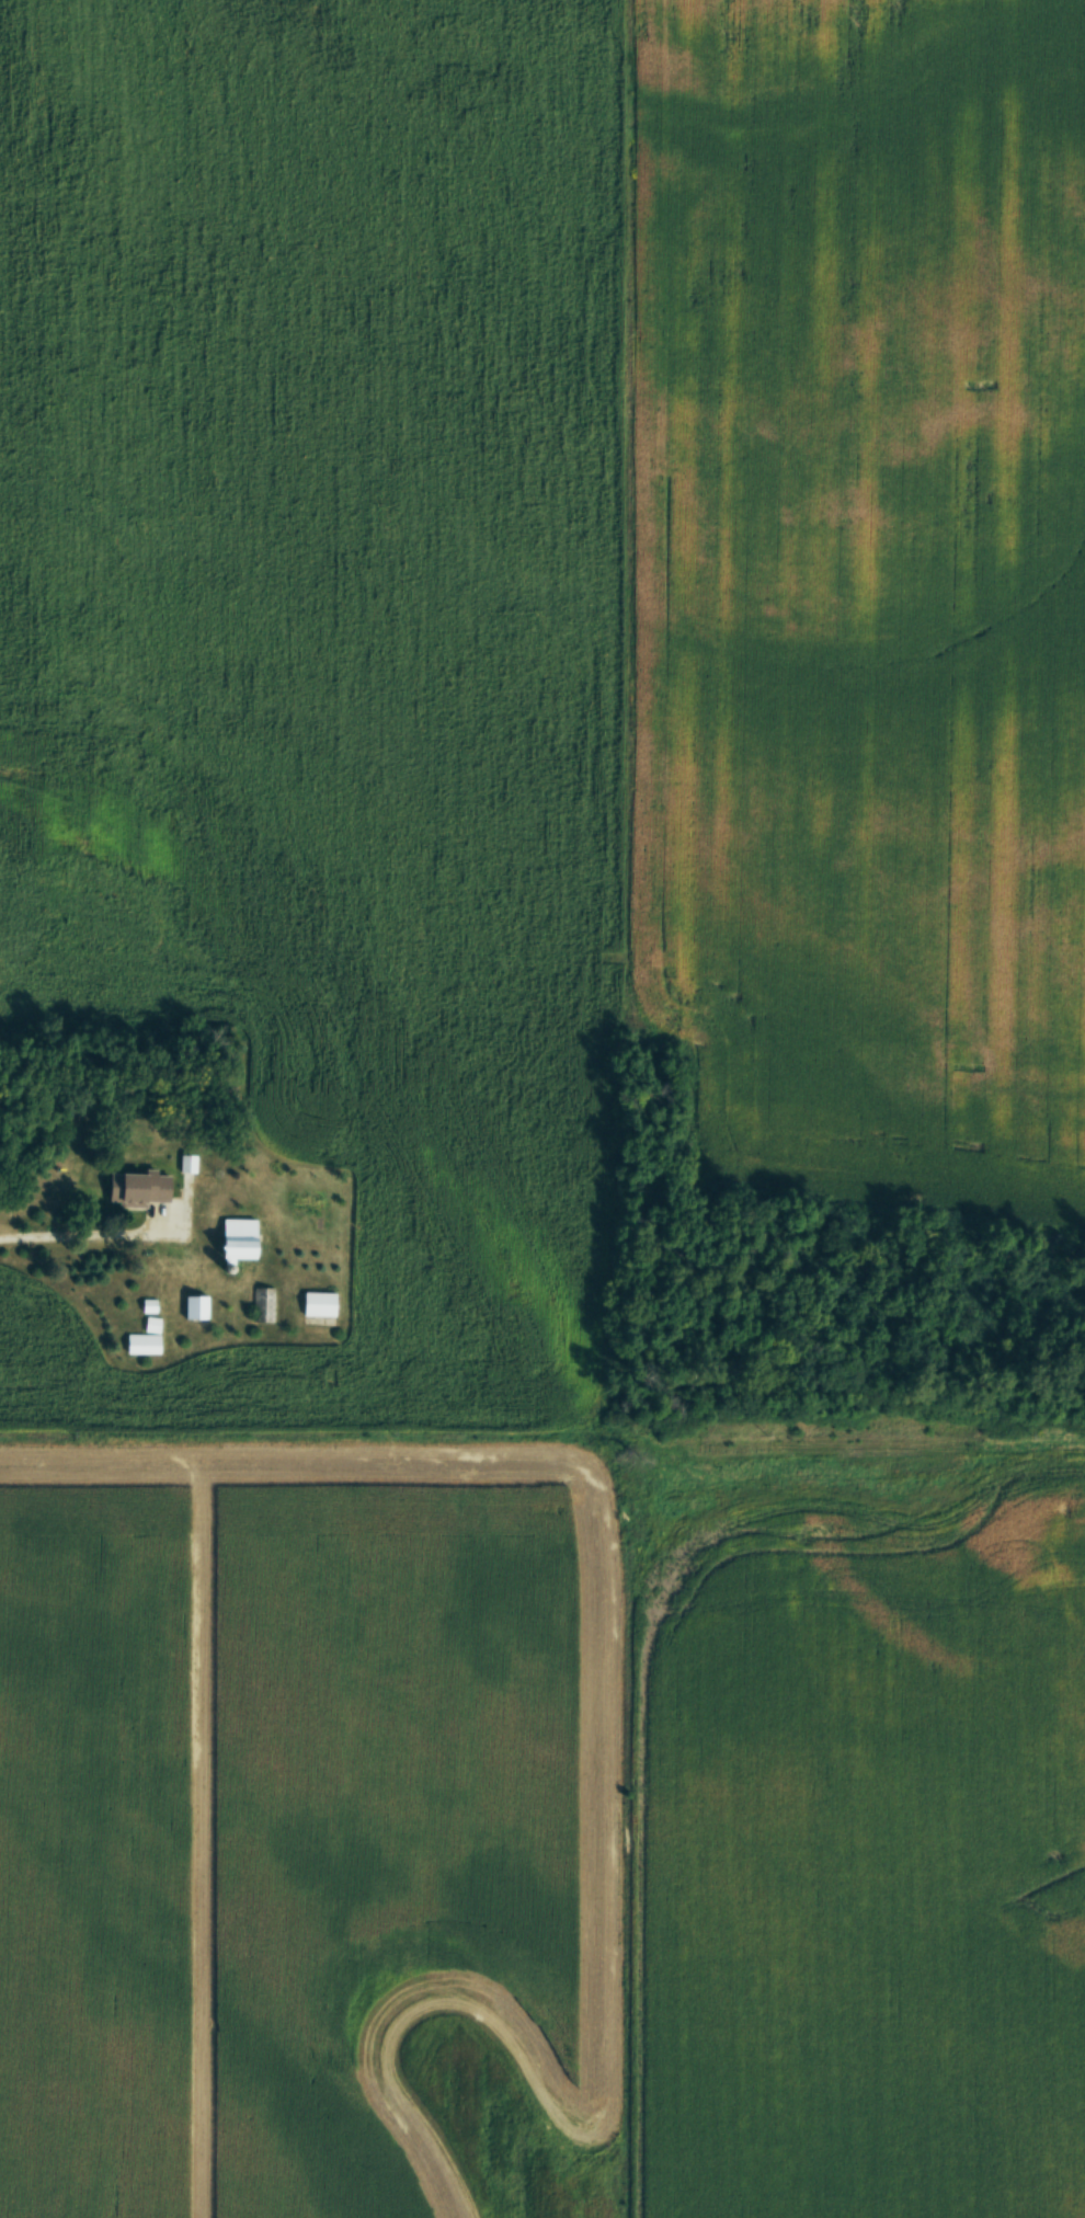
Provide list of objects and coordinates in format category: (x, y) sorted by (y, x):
building: (136, 1188)
road: (88, 1234)
building: (233, 1239)
building: (317, 1303)
building: (263, 1304)
building: (194, 1307)
building: (141, 1344)

